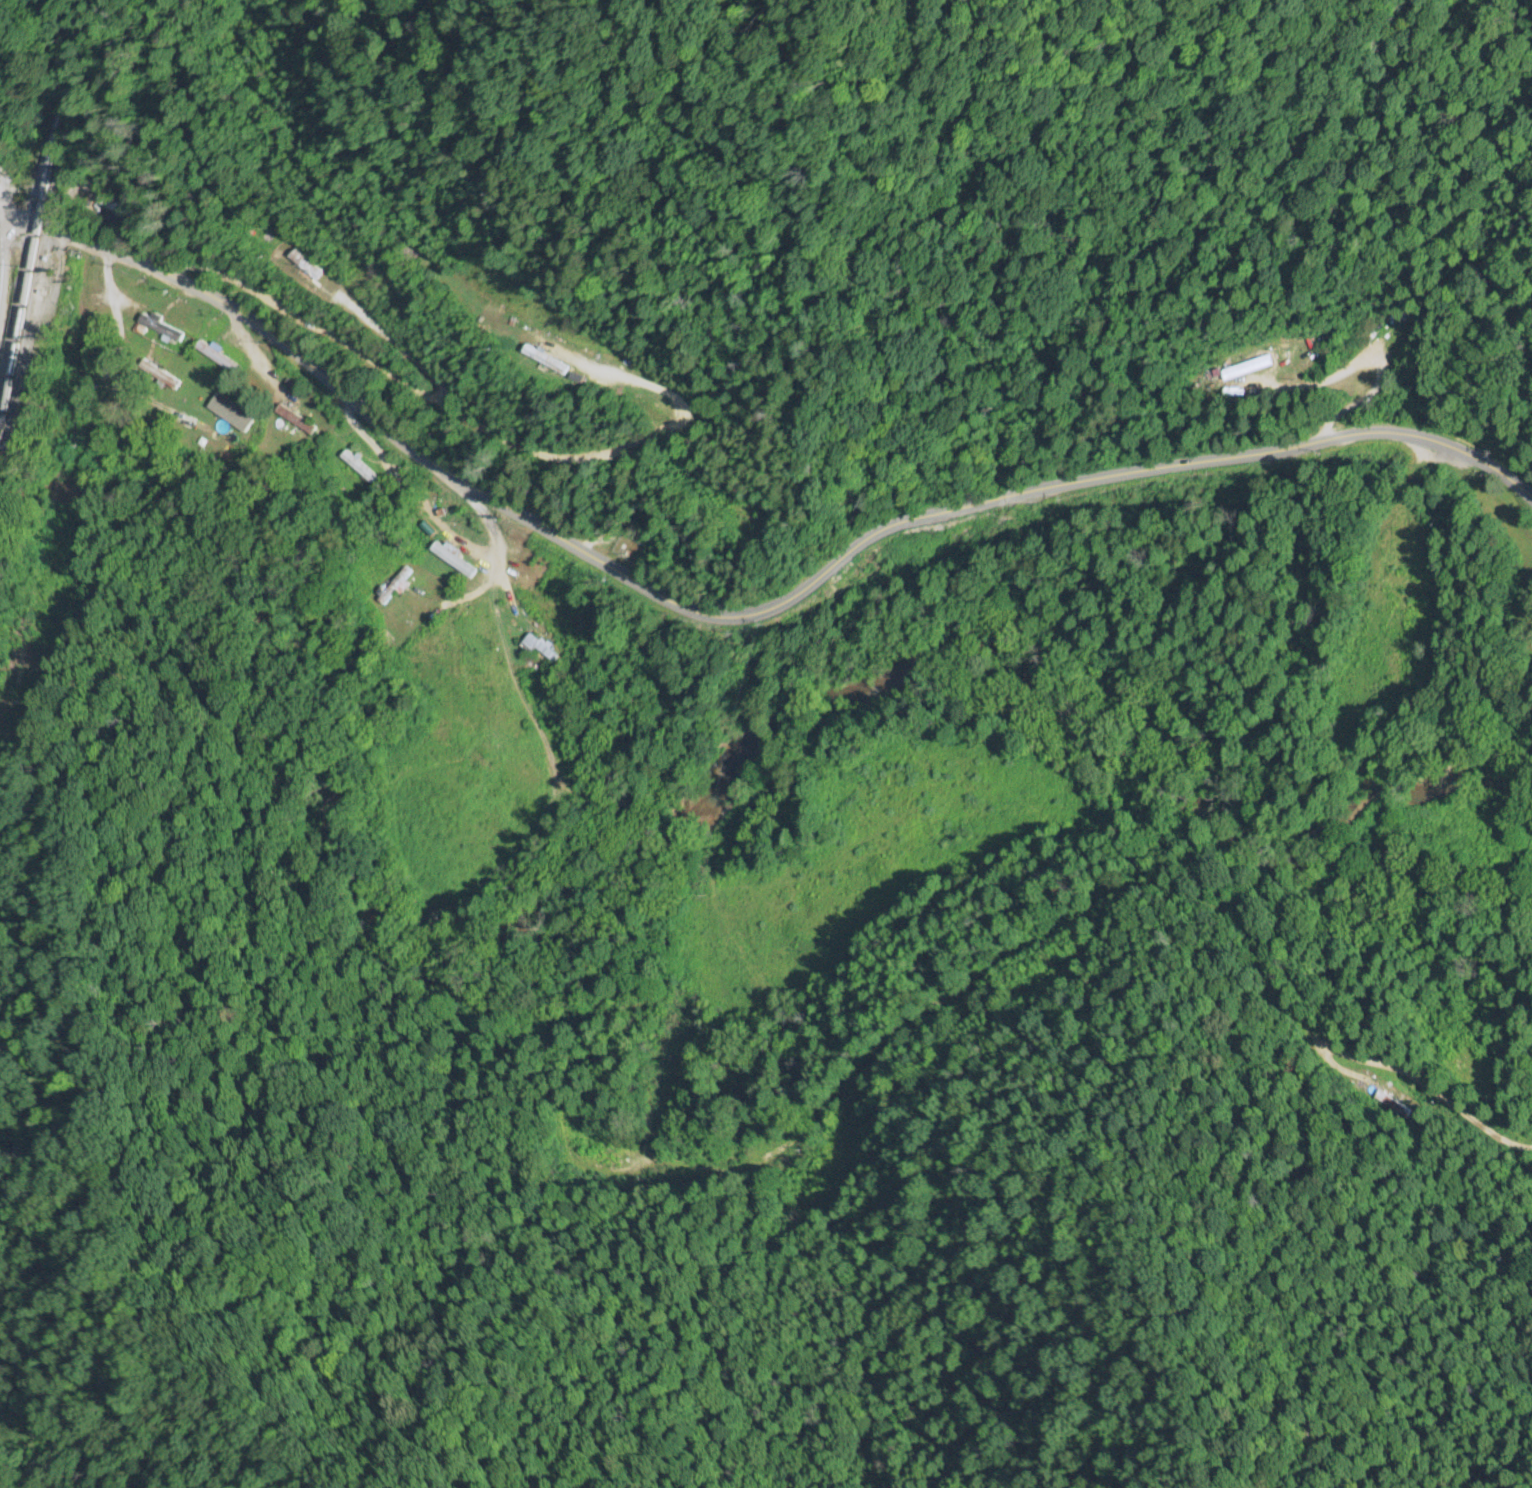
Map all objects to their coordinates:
building: (112, 208)
building: (303, 266)
railway: (29, 271)
building: (161, 328)
building: (215, 357)
building: (546, 360)
road: (1486, 405)
building: (233, 428)
building: (361, 466)
building: (452, 559)
road: (742, 613)
building: (547, 615)
building: (541, 650)
building: (599, 1157)

